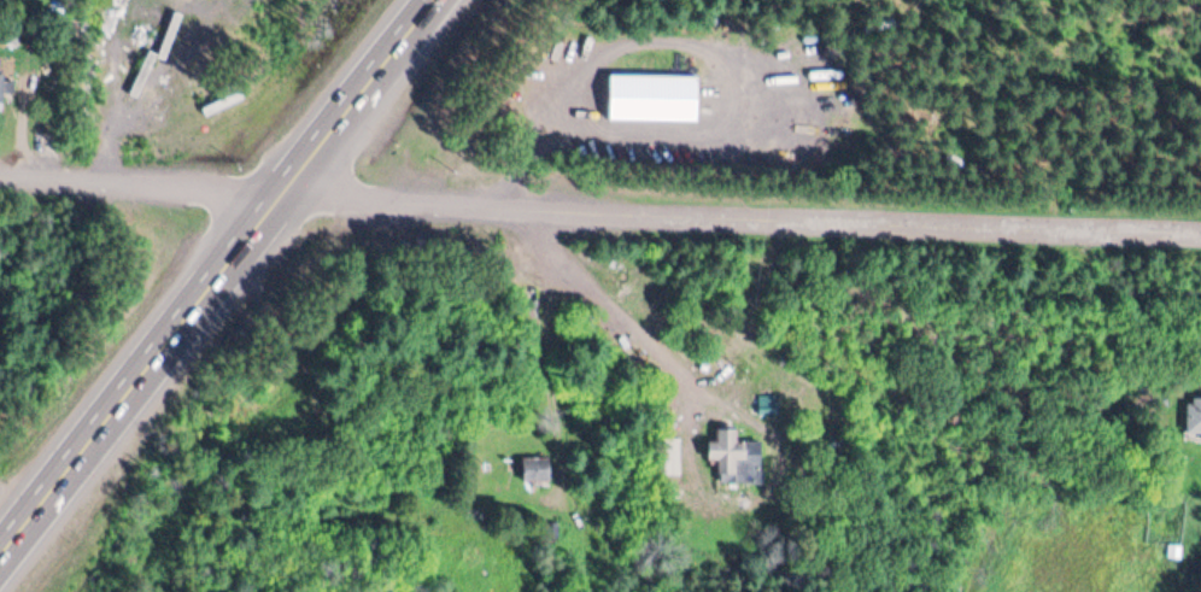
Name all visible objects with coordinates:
building: (1, 87)
building: (652, 95)
road: (145, 183)
road: (744, 212)
road: (219, 279)
road: (600, 297)
road: (549, 358)
building: (1193, 415)
building: (736, 456)
building: (535, 468)
road: (16, 503)

